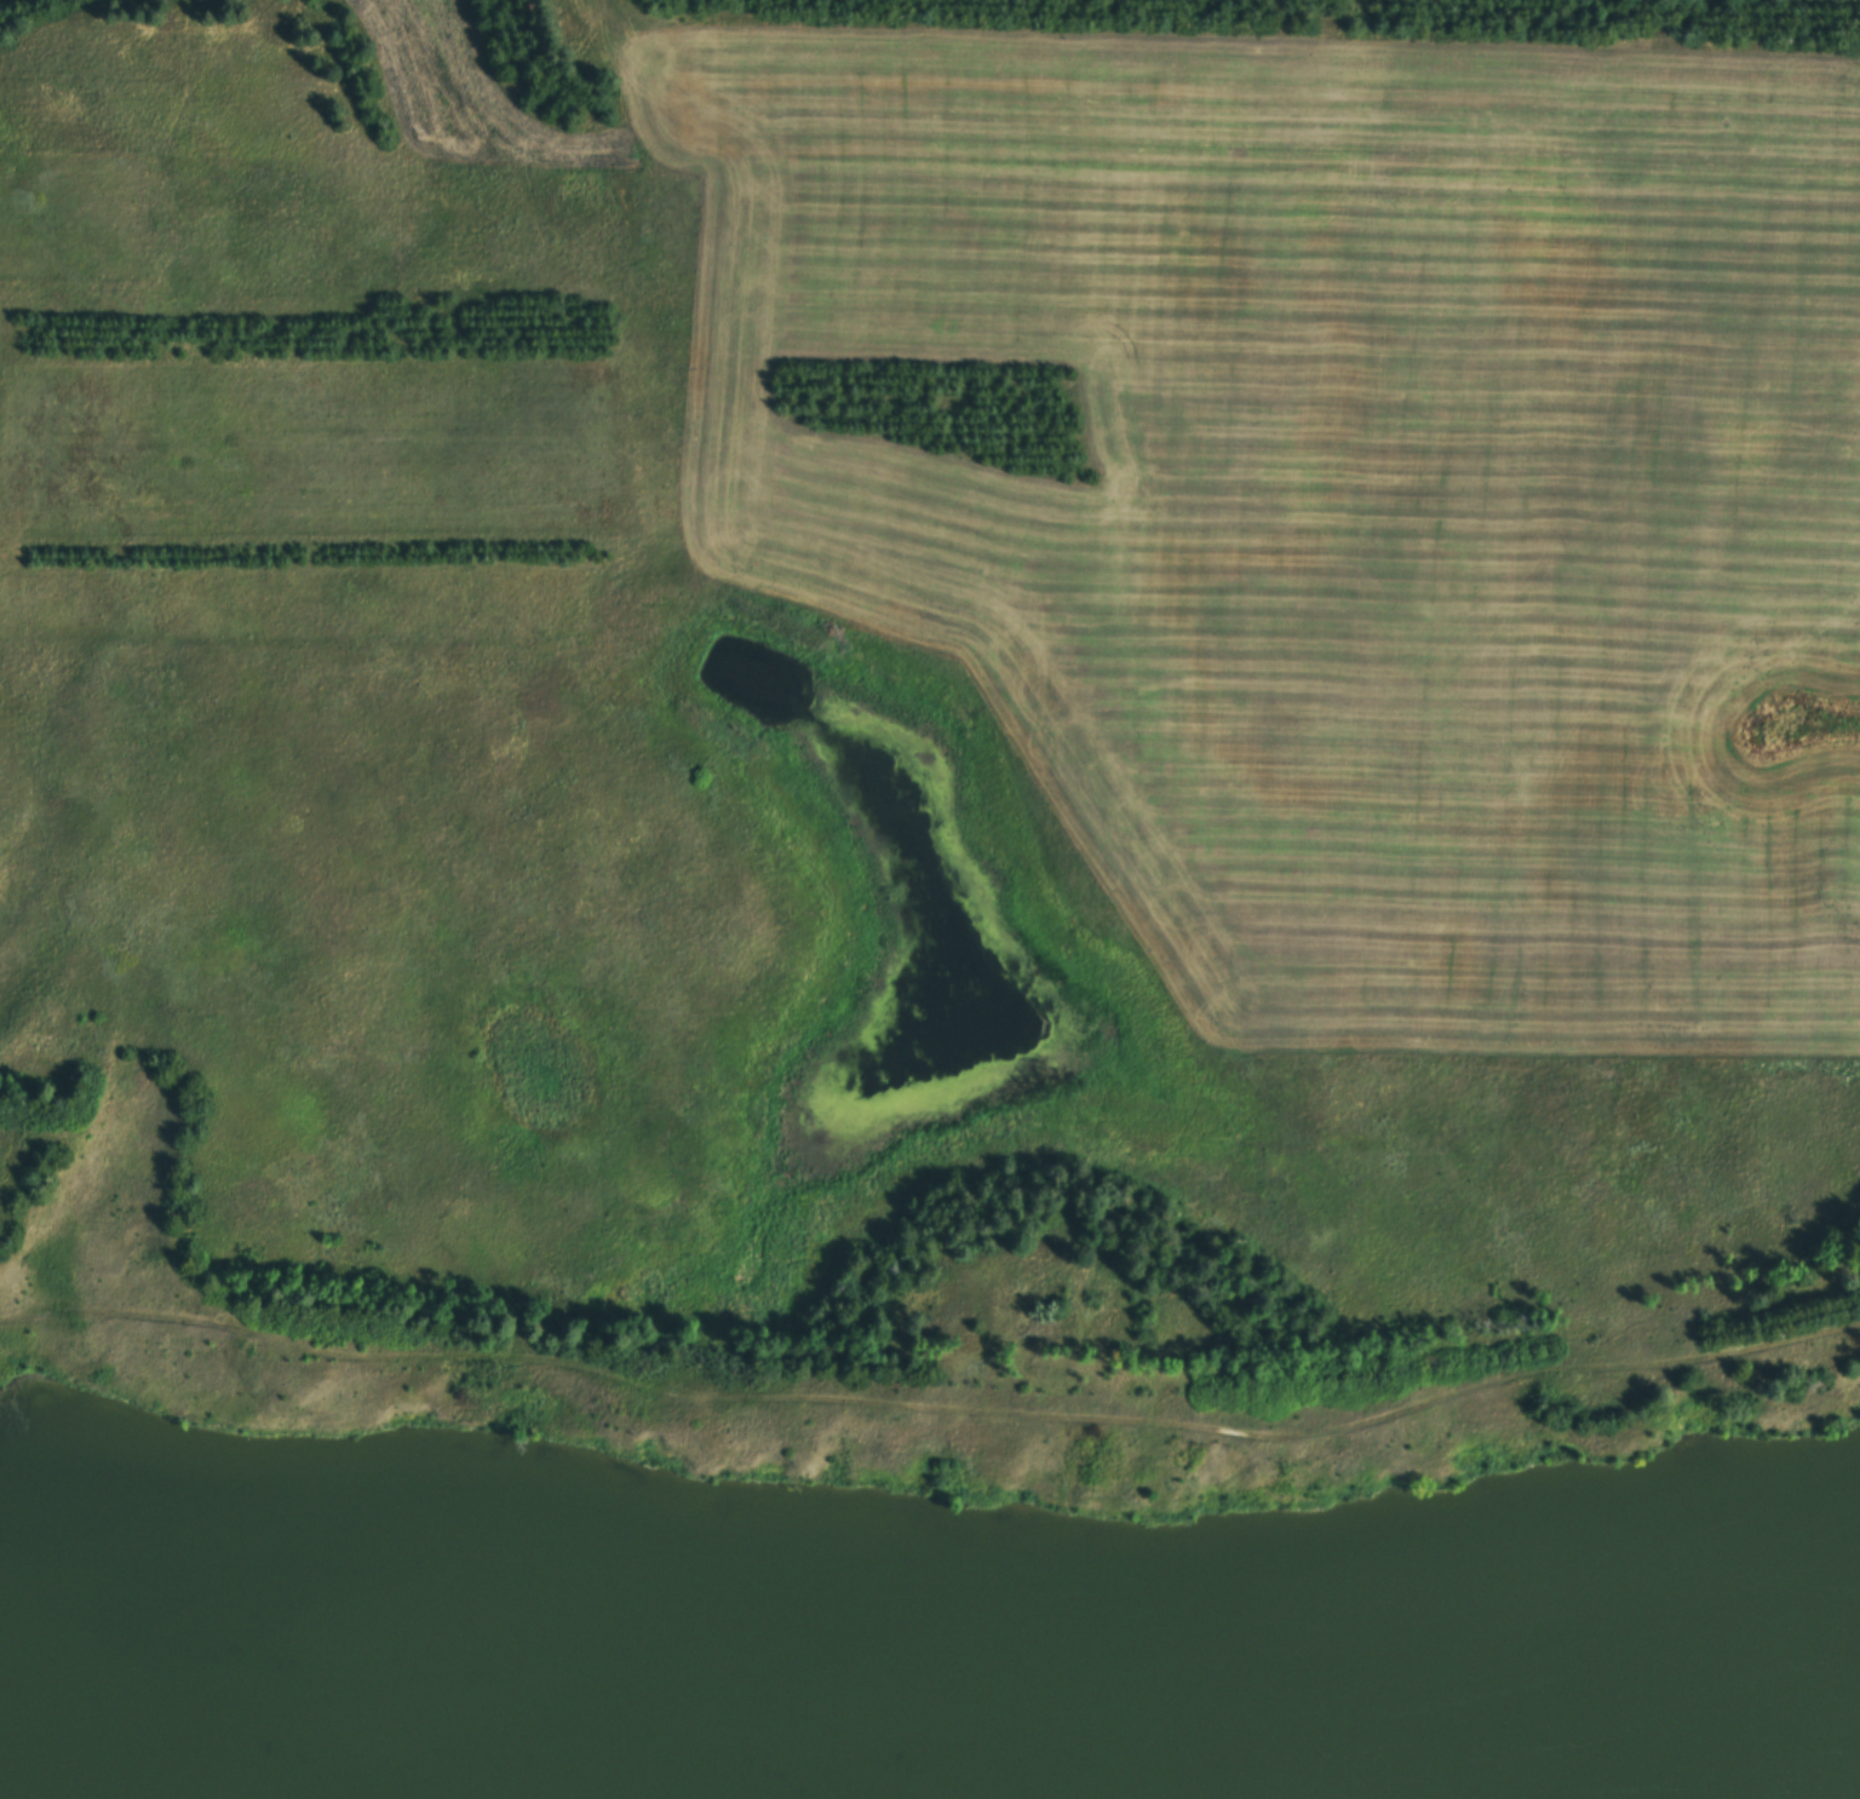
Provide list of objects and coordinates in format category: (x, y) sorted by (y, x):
building: (259, 4)

